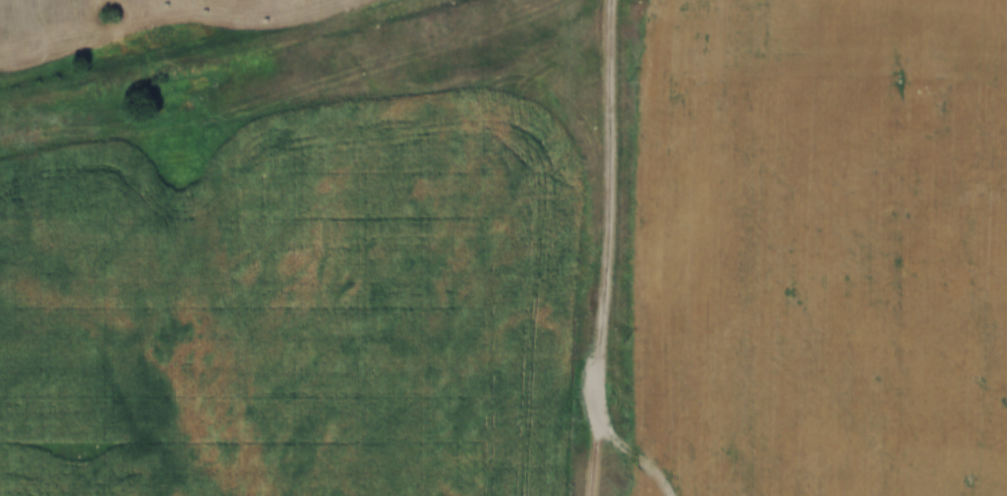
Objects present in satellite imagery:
road: (609, 248)
road: (631, 436)

